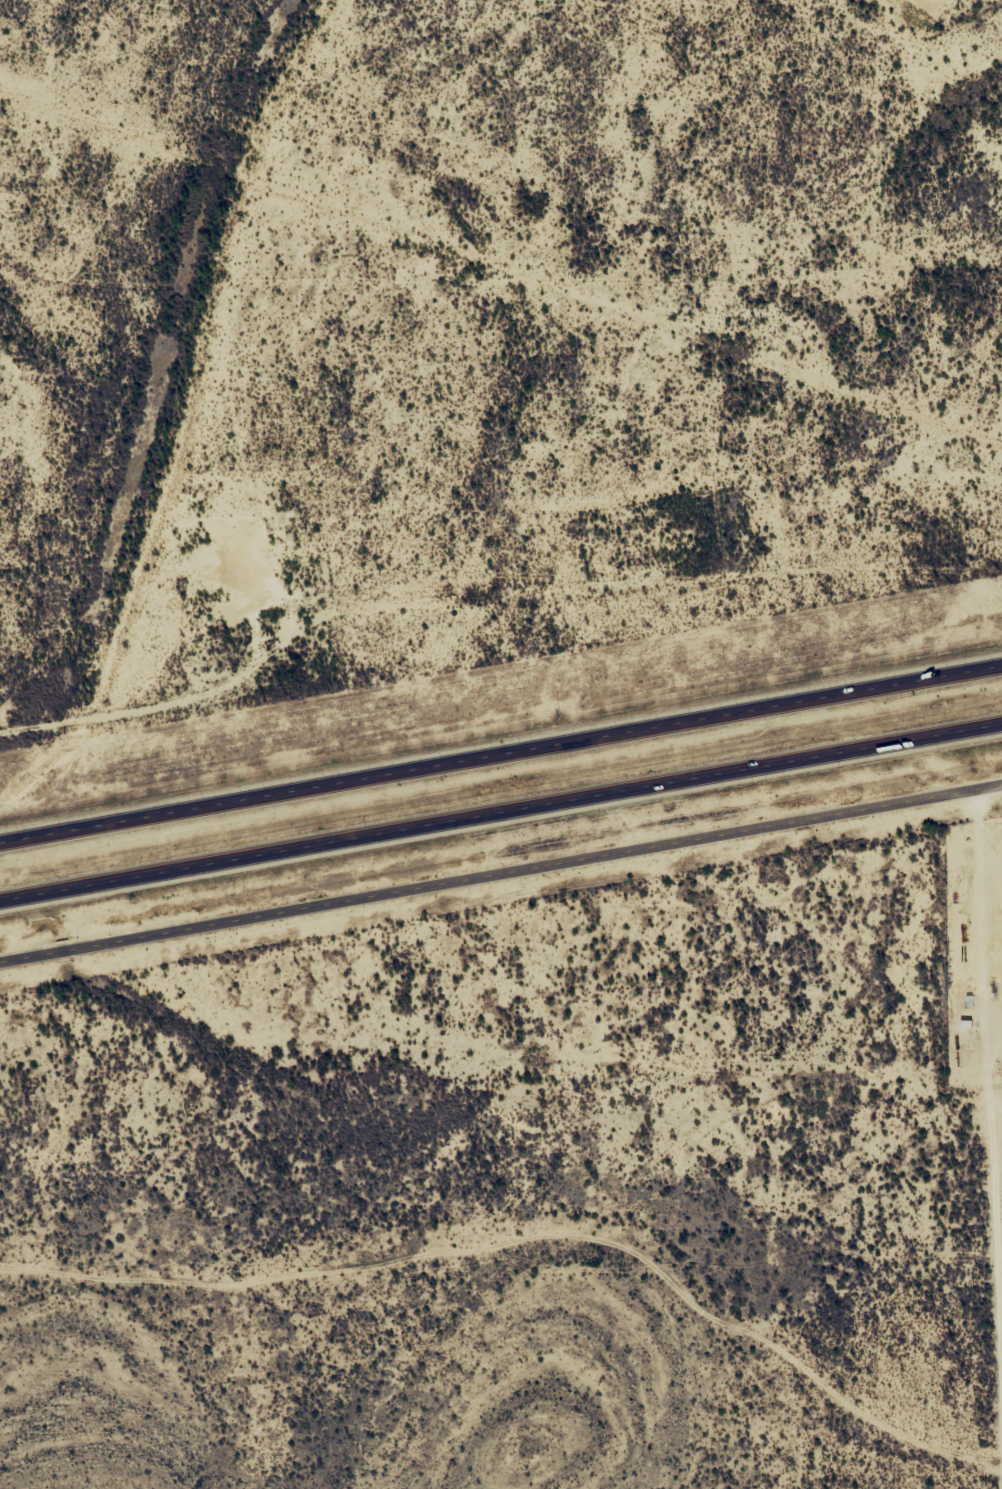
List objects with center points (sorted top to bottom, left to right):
road: (501, 755)
road: (500, 810)
road: (501, 873)

